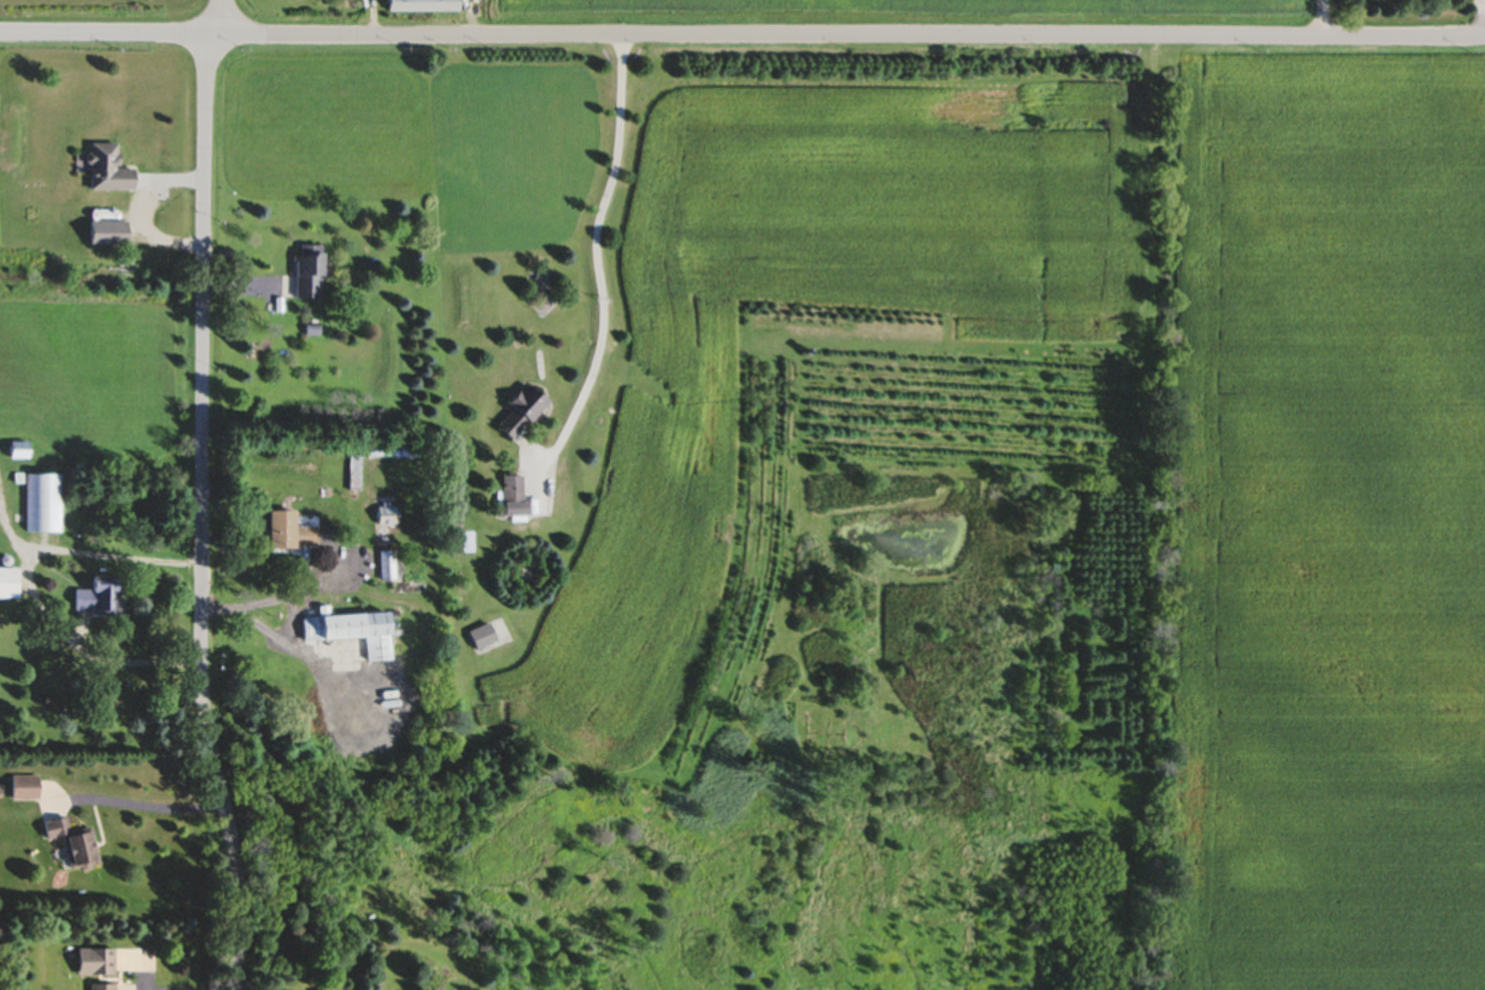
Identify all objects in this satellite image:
building: (418, 7)
road: (226, 18)
road: (1320, 19)
road: (1480, 19)
road: (742, 36)
building: (105, 172)
road: (595, 260)
building: (305, 275)
building: (517, 413)
building: (15, 453)
building: (509, 498)
building: (44, 506)
road: (204, 514)
building: (285, 535)
building: (7, 586)
road: (32, 589)
building: (95, 600)
road: (264, 603)
building: (354, 635)
building: (477, 639)
building: (21, 790)
road: (137, 803)
building: (69, 844)
building: (92, 963)
building: (97, 987)
road: (231, 989)

